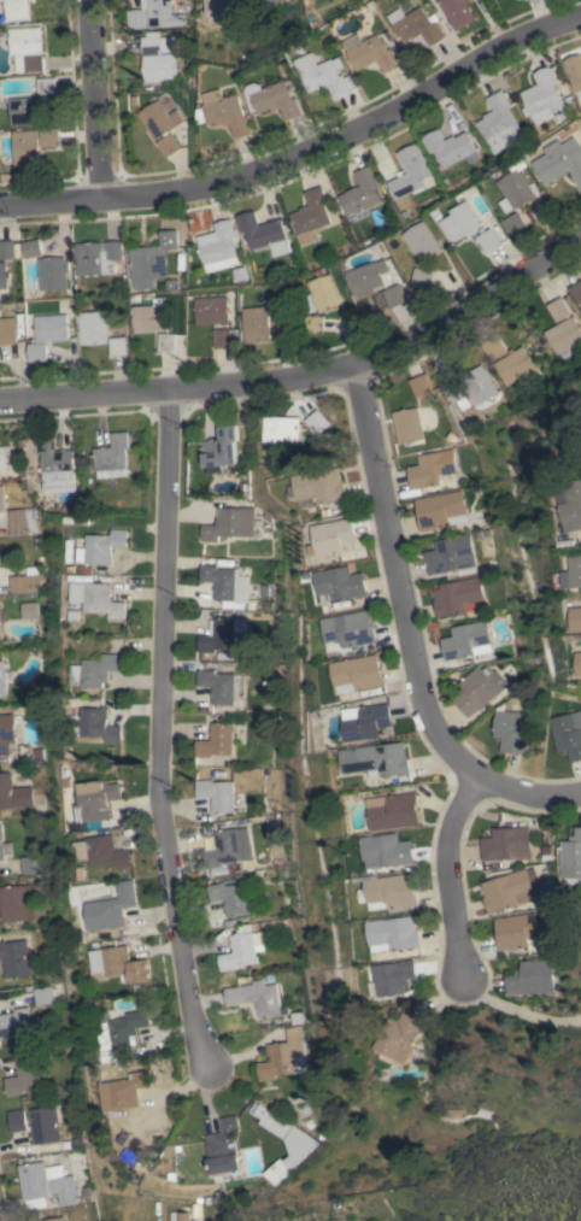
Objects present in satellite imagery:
building: (263, 2)
building: (17, 10)
building: (222, 10)
building: (459, 12)
building: (155, 14)
building: (417, 25)
building: (27, 48)
building: (371, 53)
building: (155, 57)
building: (575, 72)
building: (323, 76)
building: (47, 86)
building: (541, 96)
road: (92, 99)
building: (275, 99)
building: (27, 110)
building: (223, 112)
building: (159, 119)
building: (499, 123)
building: (51, 137)
building: (168, 145)
building: (27, 147)
building: (448, 148)
road: (304, 152)
building: (559, 160)
building: (410, 172)
building: (516, 189)
building: (360, 192)
building: (310, 215)
building: (460, 222)
building: (515, 224)
building: (263, 233)
building: (488, 240)
building: (422, 241)
building: (217, 246)
building: (33, 248)
building: (6, 250)
building: (98, 257)
building: (151, 260)
building: (52, 272)
building: (4, 275)
building: (423, 277)
building: (365, 278)
building: (576, 290)
building: (322, 294)
building: (394, 295)
building: (211, 310)
building: (558, 310)
building: (151, 316)
building: (313, 323)
building: (257, 324)
building: (281, 324)
building: (51, 328)
building: (93, 328)
building: (7, 330)
building: (563, 334)
building: (221, 337)
building: (166, 342)
building: (117, 345)
building: (493, 347)
building: (37, 352)
building: (515, 366)
road: (304, 372)
building: (419, 385)
building: (477, 385)
building: (457, 394)
building: (407, 424)
building: (281, 429)
building: (222, 447)
building: (111, 457)
building: (2, 459)
building: (55, 465)
building: (430, 468)
building: (321, 486)
building: (1, 499)
building: (569, 504)
building: (440, 510)
building: (20, 521)
building: (229, 523)
building: (331, 538)
building: (102, 546)
building: (450, 556)
building: (571, 573)
building: (25, 581)
building: (341, 582)
building: (227, 586)
building: (456, 597)
building: (99, 598)
building: (29, 610)
building: (575, 618)
building: (1, 623)
building: (351, 628)
road: (409, 630)
building: (222, 634)
building: (466, 640)
building: (577, 663)
building: (96, 670)
building: (358, 674)
building: (2, 679)
building: (219, 685)
building: (479, 688)
building: (366, 722)
building: (96, 724)
building: (509, 728)
building: (6, 732)
building: (568, 734)
building: (216, 741)
road: (162, 750)
building: (377, 759)
building: (13, 793)
building: (217, 797)
building: (94, 799)
building: (394, 811)
building: (504, 844)
building: (4, 846)
building: (228, 846)
building: (388, 850)
building: (102, 851)
building: (570, 858)
building: (29, 864)
road: (451, 877)
building: (507, 890)
building: (392, 892)
building: (229, 897)
building: (13, 904)
building: (110, 906)
building: (516, 929)
building: (397, 933)
building: (241, 947)
building: (13, 958)
building: (118, 965)
building: (529, 978)
building: (397, 979)
building: (42, 996)
building: (257, 998)
road: (517, 1014)
building: (14, 1023)
building: (123, 1031)
building: (400, 1035)
building: (283, 1056)
building: (25, 1074)
building: (125, 1090)
building: (17, 1120)
building: (272, 1121)
building: (43, 1125)
building: (224, 1147)
building: (281, 1169)
building: (45, 1185)
building: (180, 1214)
building: (53, 1219)

